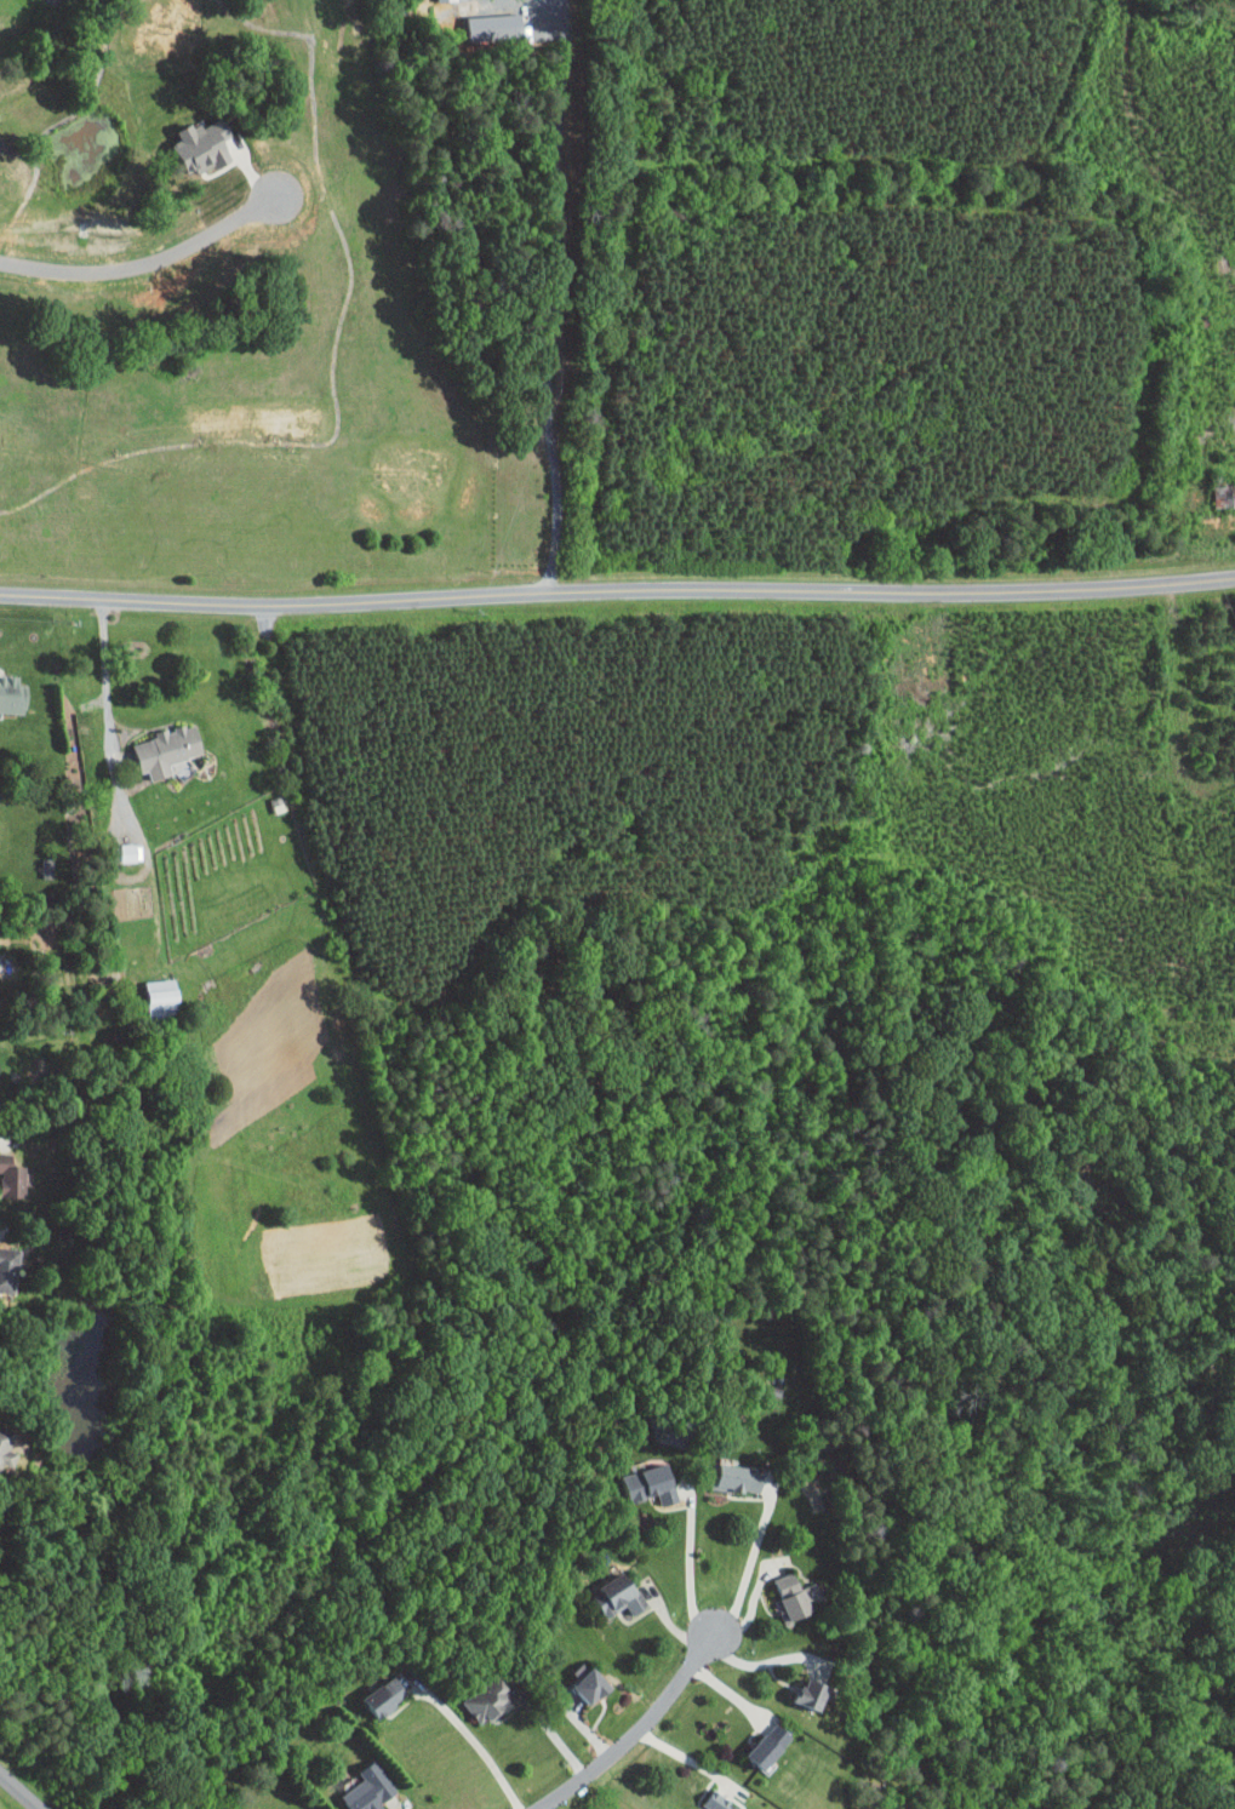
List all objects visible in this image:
building: (195, 137)
road: (144, 265)
road: (553, 298)
road: (617, 592)
building: (12, 693)
road: (112, 716)
building: (166, 748)
building: (126, 851)
building: (47, 866)
building: (161, 998)
building: (4, 1260)
building: (6, 1441)
building: (731, 1472)
building: (641, 1476)
road: (690, 1561)
road: (750, 1562)
building: (610, 1588)
building: (783, 1590)
road: (761, 1664)
building: (582, 1679)
building: (804, 1688)
road: (361, 1689)
building: (376, 1689)
road: (633, 1731)
road: (475, 1740)
building: (761, 1740)
road: (686, 1757)
building: (356, 1784)
road: (17, 1793)
building: (708, 1801)

